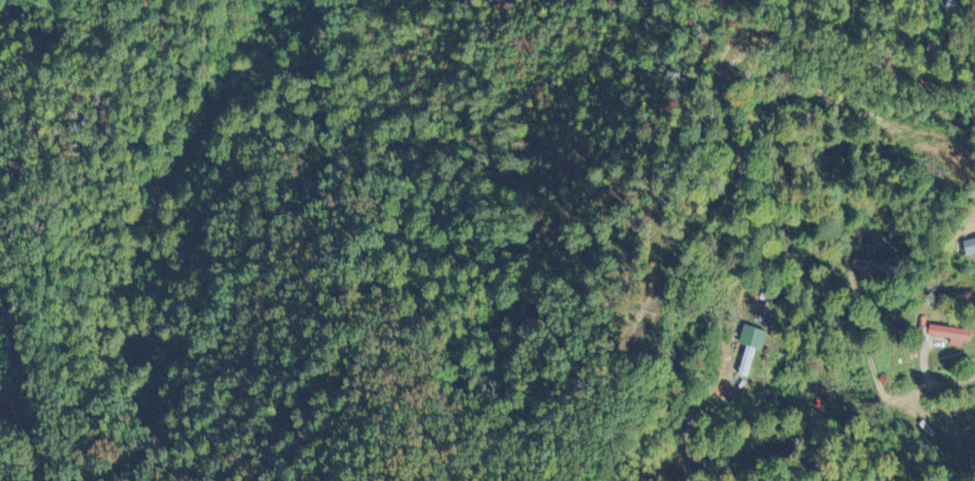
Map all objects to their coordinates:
road: (290, 29)
building: (968, 249)
building: (862, 263)
building: (948, 337)
building: (747, 350)
road: (684, 435)

